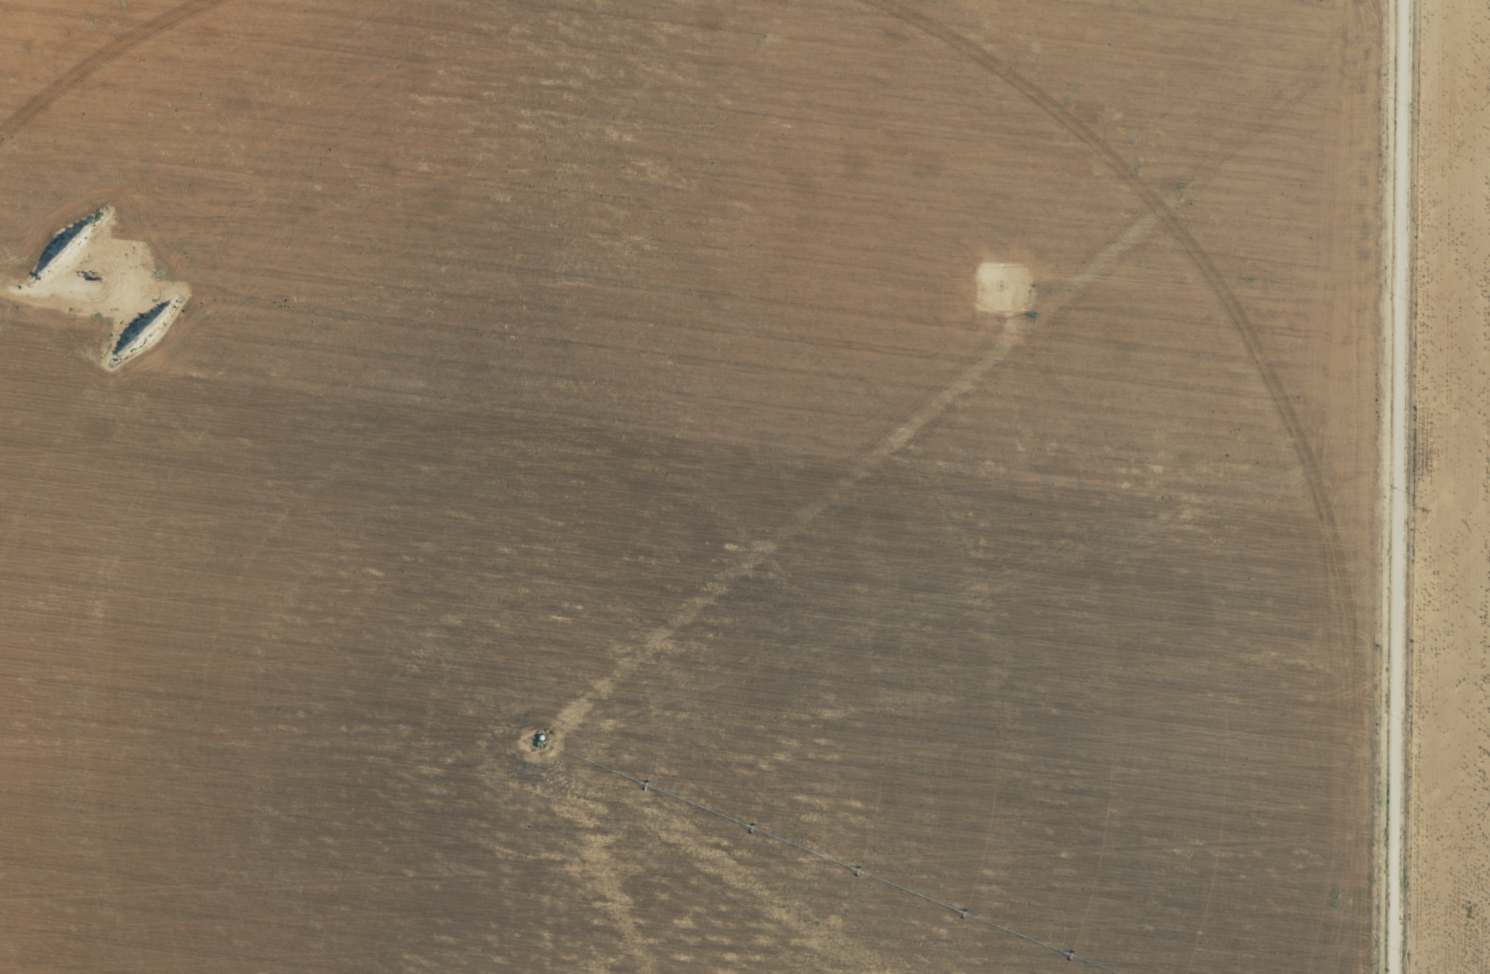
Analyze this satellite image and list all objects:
petroleum well: (91, 281)
road: (1398, 487)

